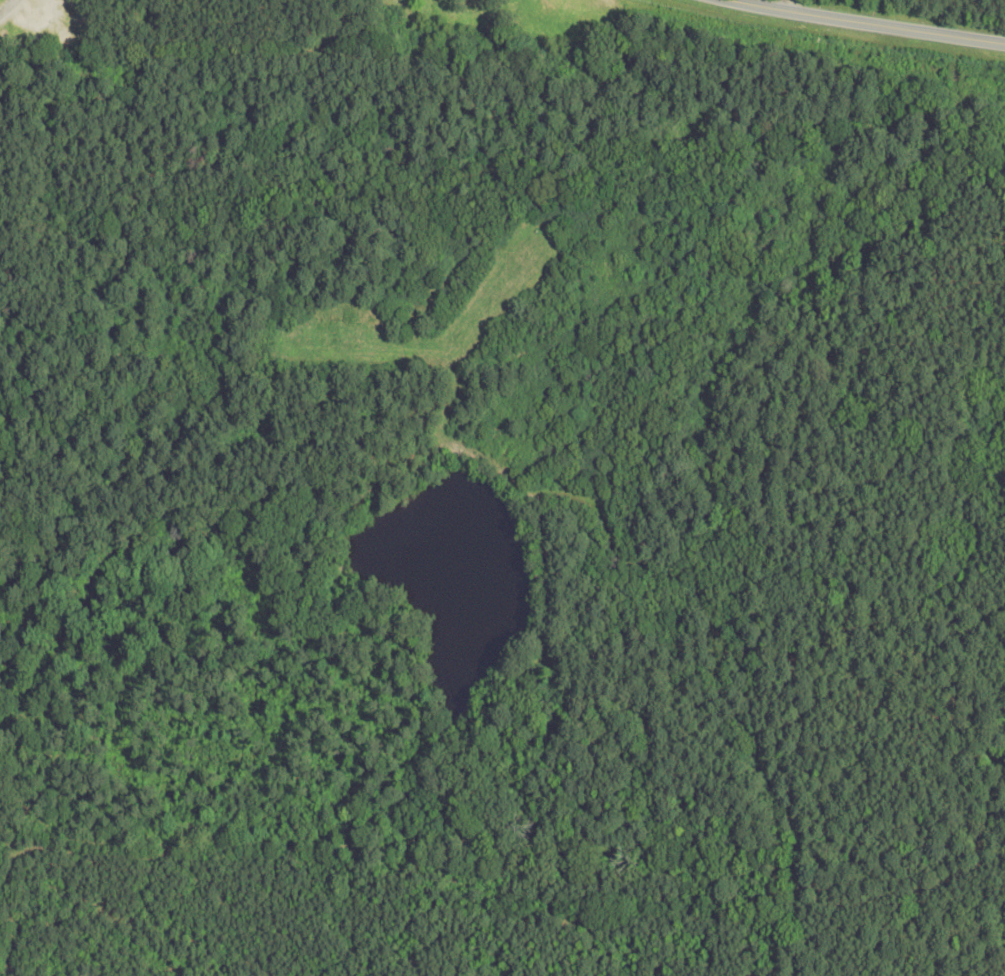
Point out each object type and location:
road: (8, 5)
road: (871, 20)
building: (462, 21)

